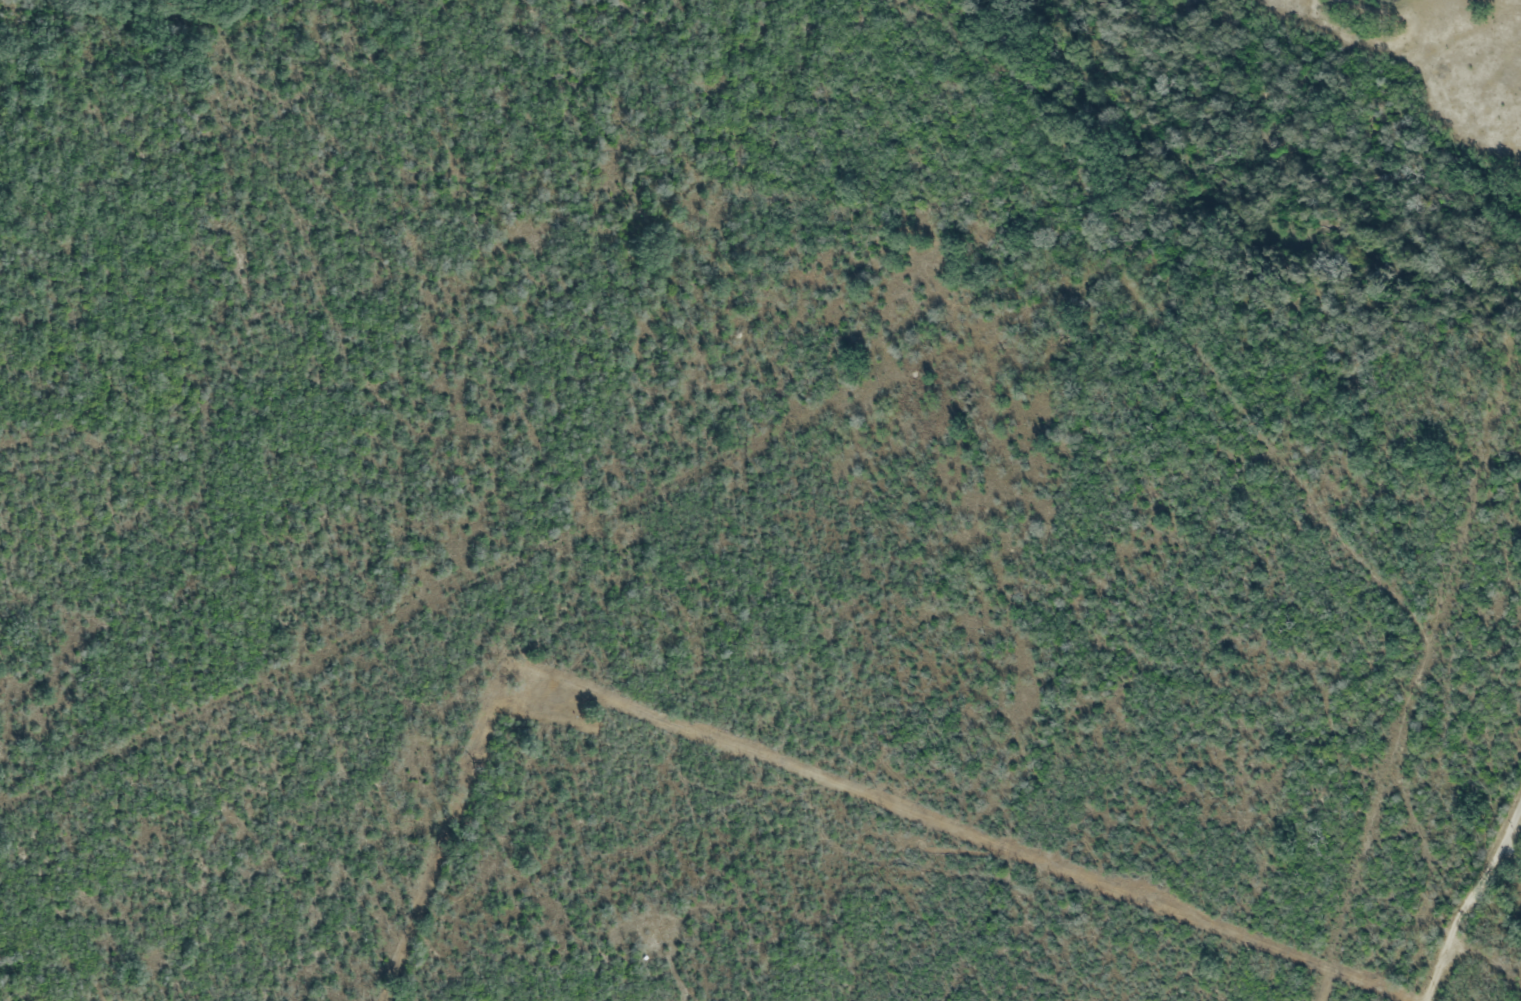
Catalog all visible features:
road: (1502, 832)
road: (1447, 933)

